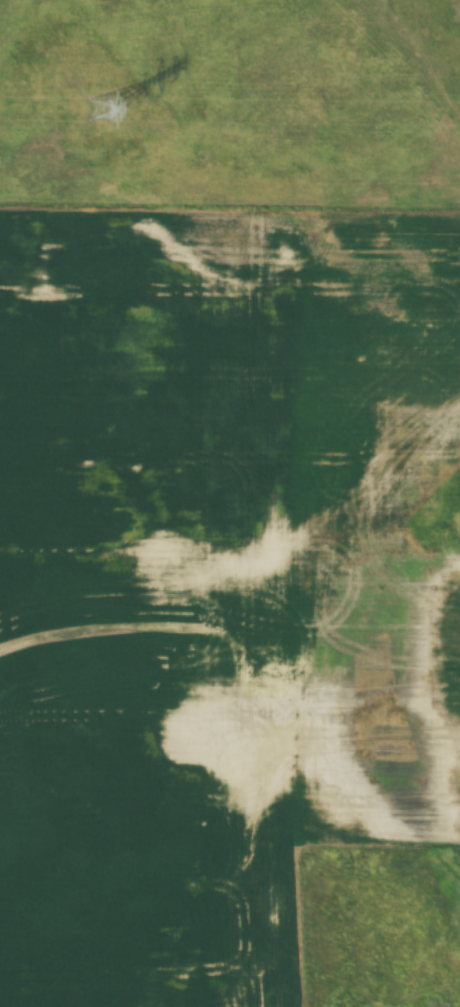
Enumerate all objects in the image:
power tower: (99, 99)
road: (317, 865)
road: (444, 996)

